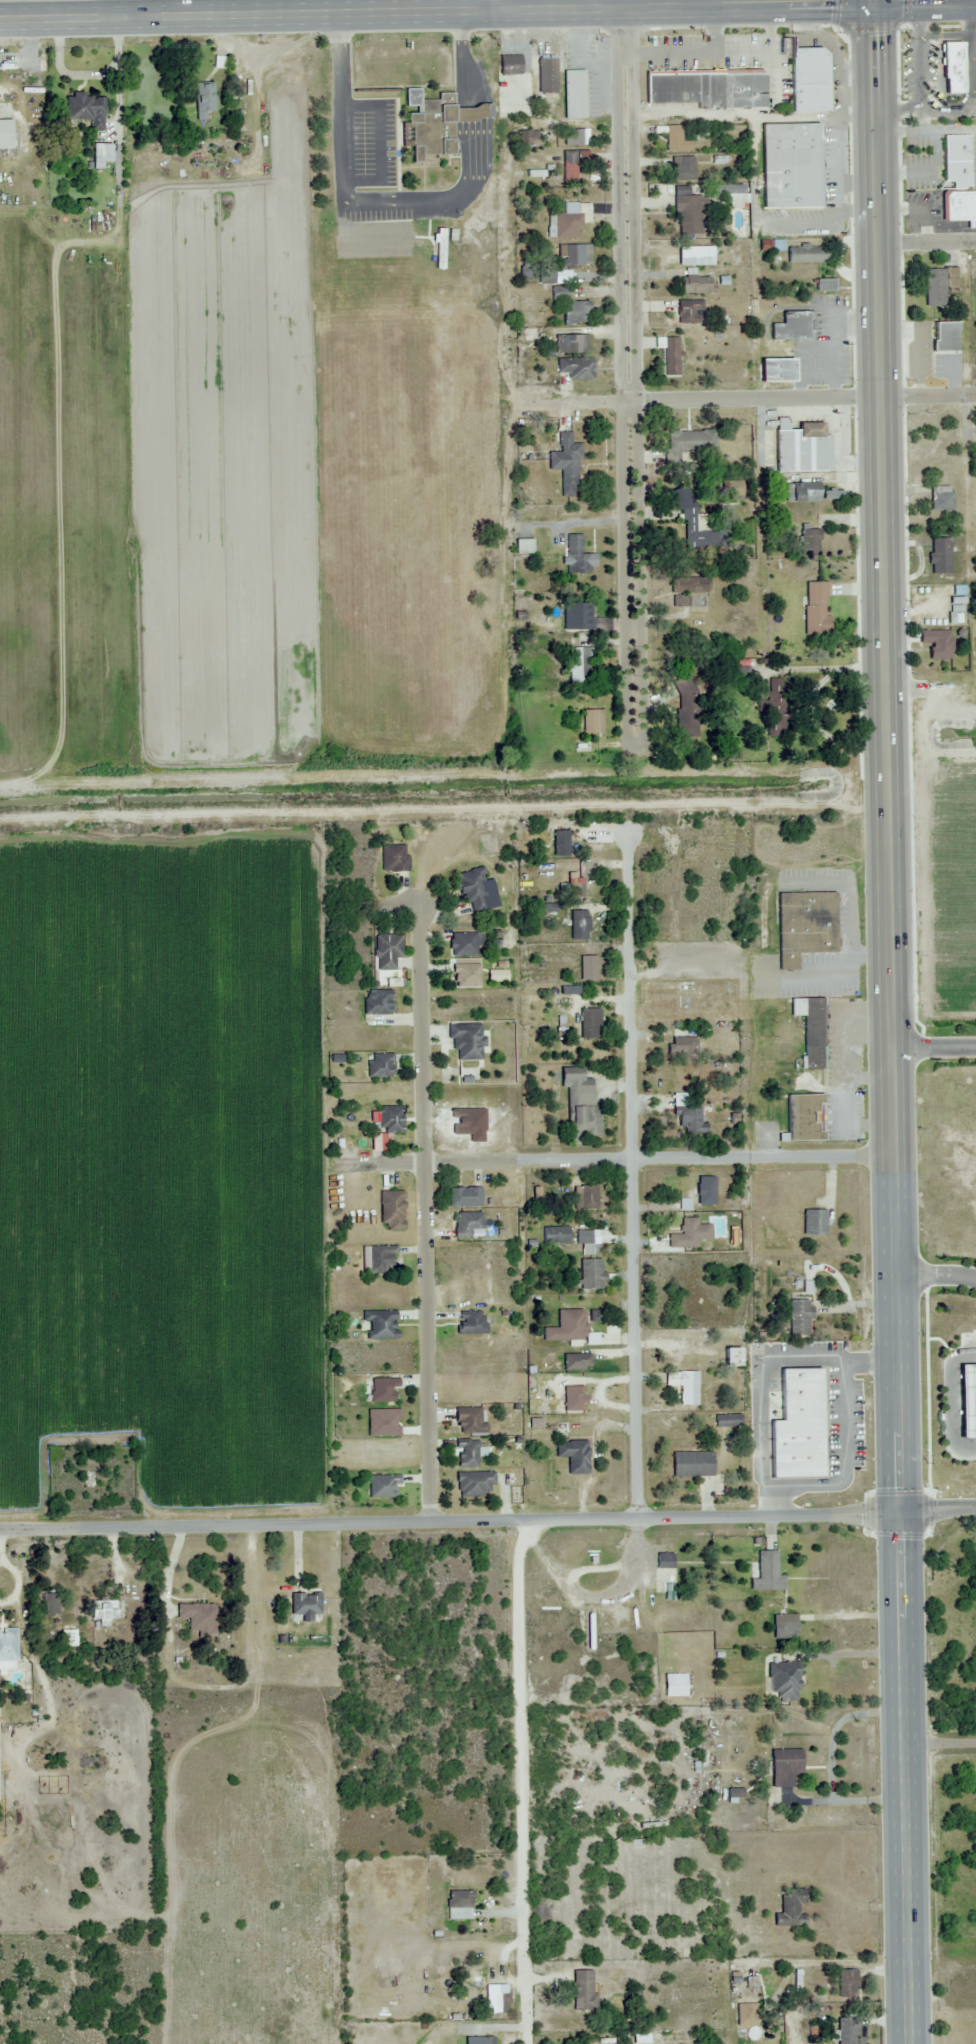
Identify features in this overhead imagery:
road: (876, 2)
road: (705, 4)
traffic signals: (877, 5)
road: (500, 6)
road: (125, 8)
road: (488, 12)
building: (509, 64)
building: (950, 68)
building: (546, 75)
building: (808, 79)
building: (705, 87)
building: (573, 94)
building: (204, 96)
building: (87, 109)
building: (435, 123)
building: (7, 133)
building: (528, 138)
building: (675, 138)
building: (103, 154)
building: (957, 160)
building: (572, 164)
building: (789, 165)
building: (683, 168)
building: (959, 205)
building: (688, 214)
building: (566, 221)
road: (929, 241)
building: (574, 255)
building: (694, 255)
building: (805, 255)
road: (759, 261)
building: (695, 284)
building: (824, 285)
building: (940, 287)
building: (571, 306)
building: (689, 311)
building: (793, 326)
building: (945, 337)
building: (571, 344)
building: (671, 357)
building: (576, 368)
road: (629, 379)
road: (885, 386)
road: (753, 403)
building: (691, 442)
building: (800, 447)
building: (566, 461)
building: (802, 492)
building: (941, 497)
building: (695, 527)
building: (809, 543)
building: (524, 546)
building: (940, 555)
building: (577, 556)
building: (686, 589)
building: (815, 607)
building: (577, 616)
building: (936, 643)
building: (579, 665)
building: (686, 706)
building: (776, 707)
building: (591, 722)
building: (560, 843)
building: (394, 858)
building: (576, 891)
building: (473, 892)
building: (578, 925)
building: (804, 926)
building: (466, 944)
building: (387, 951)
building: (587, 968)
building: (465, 976)
building: (377, 1003)
building: (970, 1017)
building: (589, 1024)
building: (810, 1030)
building: (466, 1040)
building: (683, 1046)
road: (934, 1049)
building: (379, 1066)
building: (582, 1107)
building: (688, 1115)
building: (802, 1117)
building: (389, 1119)
road: (894, 1140)
road: (660, 1160)
road: (632, 1178)
building: (695, 1190)
building: (464, 1197)
building: (588, 1197)
building: (391, 1210)
road: (428, 1214)
building: (814, 1222)
building: (466, 1224)
building: (689, 1234)
building: (555, 1235)
building: (583, 1237)
building: (379, 1259)
building: (591, 1274)
road: (936, 1275)
building: (799, 1318)
building: (470, 1322)
building: (380, 1324)
building: (575, 1332)
building: (731, 1358)
building: (576, 1362)
building: (802, 1364)
building: (684, 1386)
building: (382, 1390)
road: (927, 1392)
building: (968, 1401)
gas station: (968, 1401)
road: (951, 1402)
building: (800, 1418)
building: (468, 1421)
building: (727, 1421)
building: (466, 1454)
building: (573, 1455)
building: (692, 1464)
building: (91, 1474)
building: (474, 1484)
building: (382, 1485)
road: (937, 1508)
road: (931, 1509)
road: (450, 1522)
road: (931, 1527)
building: (664, 1572)
building: (767, 1572)
road: (597, 1596)
building: (48, 1601)
building: (306, 1605)
building: (107, 1611)
building: (199, 1617)
building: (784, 1626)
building: (8, 1648)
building: (783, 1681)
building: (674, 1685)
building: (784, 1766)
road: (905, 1778)
road: (520, 1782)
road: (433, 1783)
building: (460, 1899)
building: (790, 1908)
building: (846, 1982)
building: (583, 1990)
building: (498, 1996)
building: (749, 2020)
building: (846, 2030)
building: (486, 2040)

